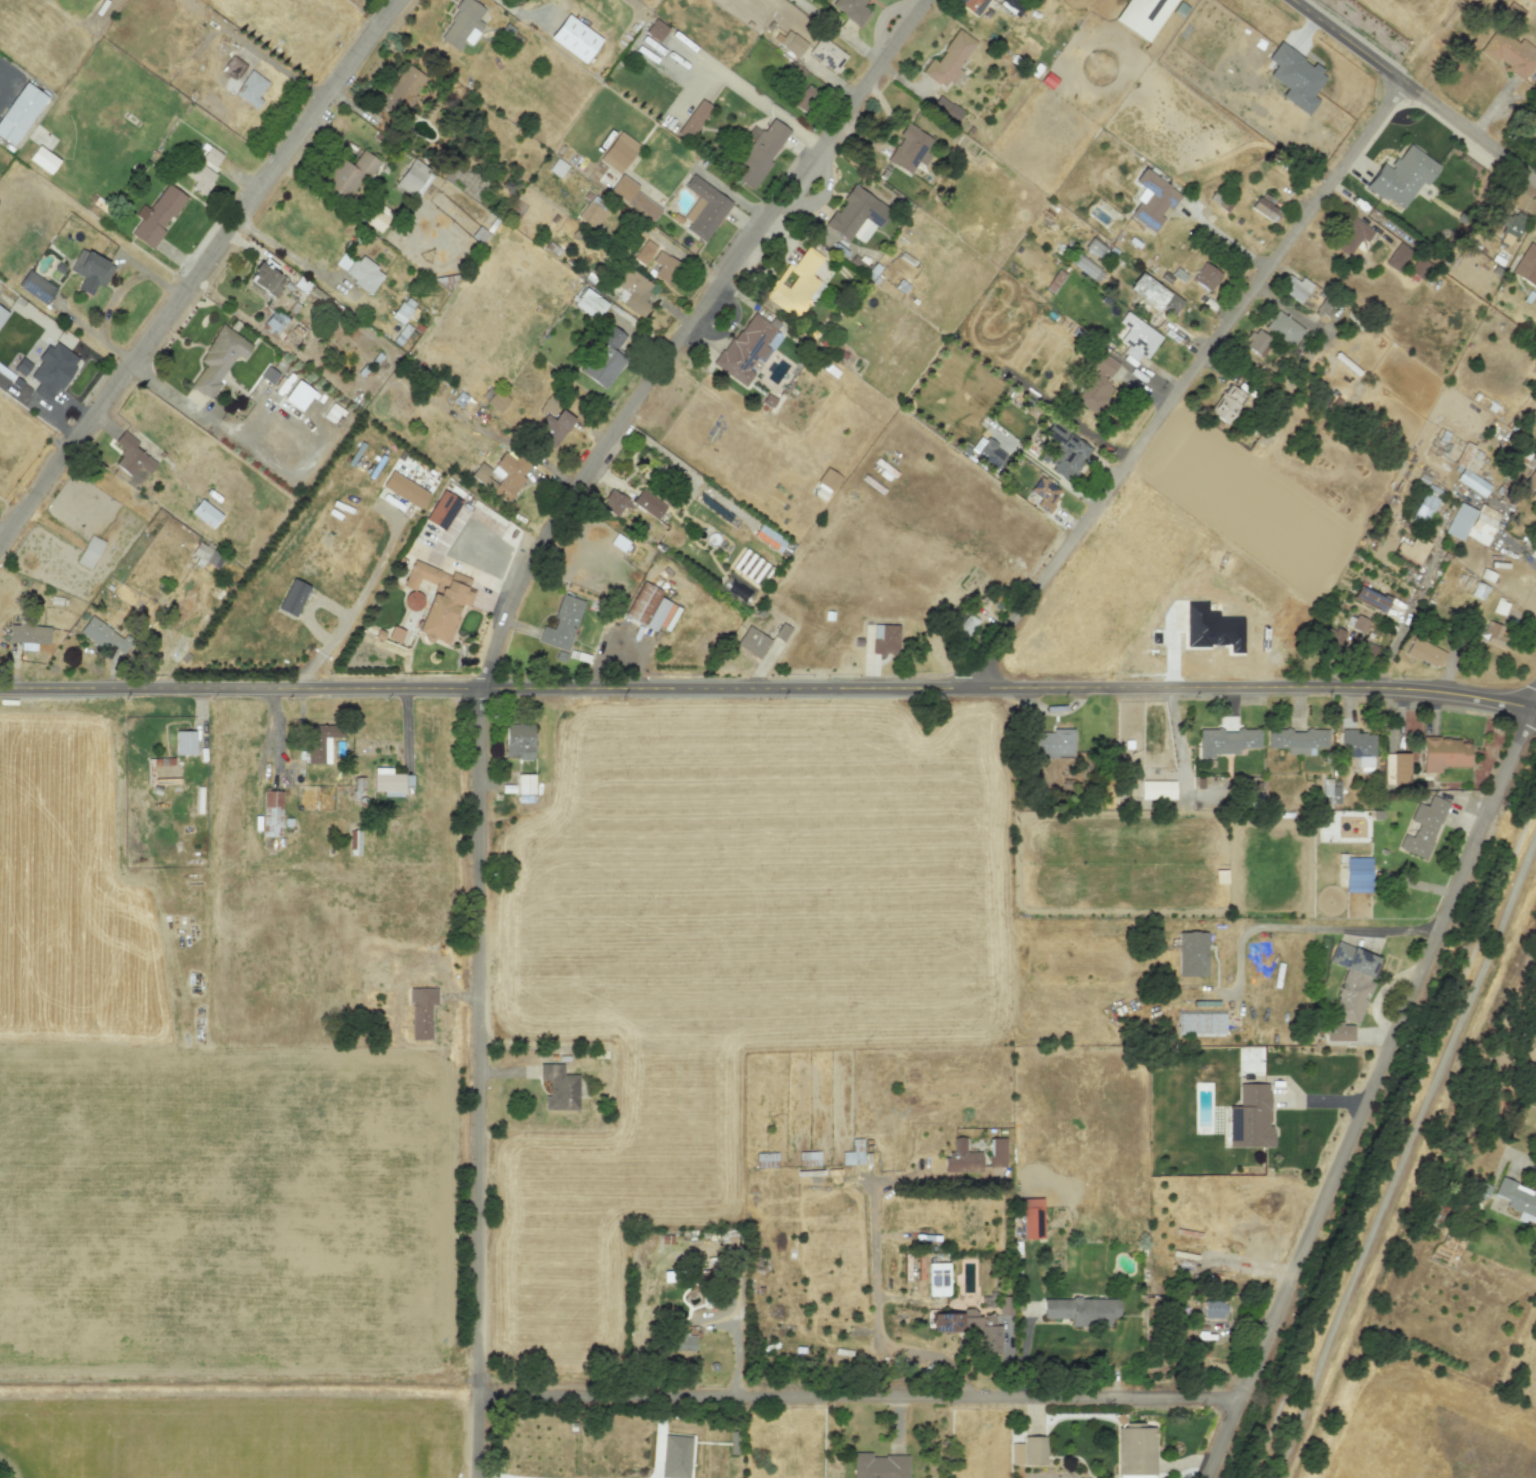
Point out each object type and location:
building: (971, 5)
building: (851, 10)
building: (1141, 16)
building: (462, 25)
building: (655, 30)
building: (574, 38)
building: (792, 43)
building: (1509, 53)
building: (827, 54)
building: (949, 60)
road: (3, 68)
road: (271, 68)
building: (1295, 77)
building: (242, 82)
road: (735, 84)
building: (402, 90)
road: (1413, 90)
building: (806, 99)
building: (22, 112)
building: (694, 120)
building: (910, 149)
building: (618, 152)
building: (758, 153)
building: (43, 159)
building: (557, 167)
building: (203, 168)
building: (347, 175)
building: (1401, 176)
building: (414, 178)
building: (633, 197)
building: (1152, 200)
building: (1265, 207)
building: (704, 209)
building: (590, 213)
building: (857, 215)
building: (156, 216)
building: (1510, 227)
road: (1222, 236)
building: (1351, 236)
road: (280, 246)
building: (1095, 248)
building: (644, 252)
building: (1397, 257)
building: (1526, 265)
building: (665, 267)
building: (1085, 267)
building: (1417, 270)
building: (90, 271)
road: (197, 272)
building: (360, 272)
building: (1206, 276)
building: (265, 280)
building: (796, 284)
building: (36, 286)
building: (1295, 288)
building: (1147, 290)
building: (634, 292)
road: (114, 296)
building: (590, 303)
building: (1171, 304)
building: (1326, 307)
building: (403, 310)
building: (2, 314)
building: (1283, 328)
building: (1137, 337)
building: (1258, 343)
building: (745, 347)
building: (604, 358)
building: (218, 359)
building: (1103, 359)
building: (22, 366)
building: (52, 370)
building: (268, 375)
road: (1181, 382)
building: (1096, 394)
building: (298, 395)
building: (496, 401)
building: (1227, 403)
road: (38, 409)
building: (404, 409)
building: (553, 421)
building: (987, 452)
building: (1065, 452)
building: (131, 455)
building: (1467, 465)
building: (501, 475)
building: (828, 479)
building: (1532, 482)
building: (404, 489)
building: (1042, 494)
building: (613, 503)
building: (648, 503)
building: (1423, 509)
building: (442, 510)
building: (205, 513)
building: (1471, 523)
building: (769, 538)
building: (1534, 550)
building: (1411, 551)
building: (89, 552)
road: (1518, 554)
building: (205, 556)
building: (751, 567)
building: (737, 588)
building: (1478, 590)
building: (1369, 598)
building: (436, 600)
building: (646, 606)
road: (349, 615)
building: (562, 624)
building: (1359, 624)
building: (1211, 628)
building: (781, 632)
building: (395, 634)
building: (1494, 634)
building: (29, 635)
building: (103, 635)
building: (885, 639)
building: (752, 642)
building: (1425, 652)
road: (485, 671)
road: (768, 687)
building: (519, 740)
road: (1177, 740)
building: (1297, 740)
building: (1225, 741)
building: (185, 742)
building: (321, 742)
building: (1054, 744)
building: (1359, 748)
building: (1444, 753)
building: (1396, 768)
building: (390, 782)
building: (358, 783)
building: (1157, 790)
building: (1331, 790)
building: (271, 813)
building: (1423, 827)
building: (354, 841)
building: (1357, 874)
crop: (753, 877)
road: (1309, 925)
building: (1192, 954)
building: (376, 974)
building: (1352, 981)
building: (421, 1013)
building: (1199, 1024)
building: (1339, 1032)
building: (559, 1087)
road: (1369, 1092)
building: (1251, 1120)
crop: (189, 1129)
building: (997, 1152)
building: (853, 1153)
road: (1399, 1156)
building: (961, 1158)
road: (1405, 1159)
road: (1521, 1169)
crop: (604, 1191)
building: (1518, 1199)
building: (1032, 1218)
building: (938, 1279)
road: (876, 1294)
building: (1005, 1305)
building: (1214, 1309)
building: (1081, 1310)
building: (972, 1327)
building: (683, 1343)
road: (736, 1345)
road: (858, 1394)
crop: (232, 1434)
crop: (980, 1440)
building: (1135, 1449)
building: (1028, 1451)
building: (675, 1457)
building: (879, 1466)
road: (481, 1477)

